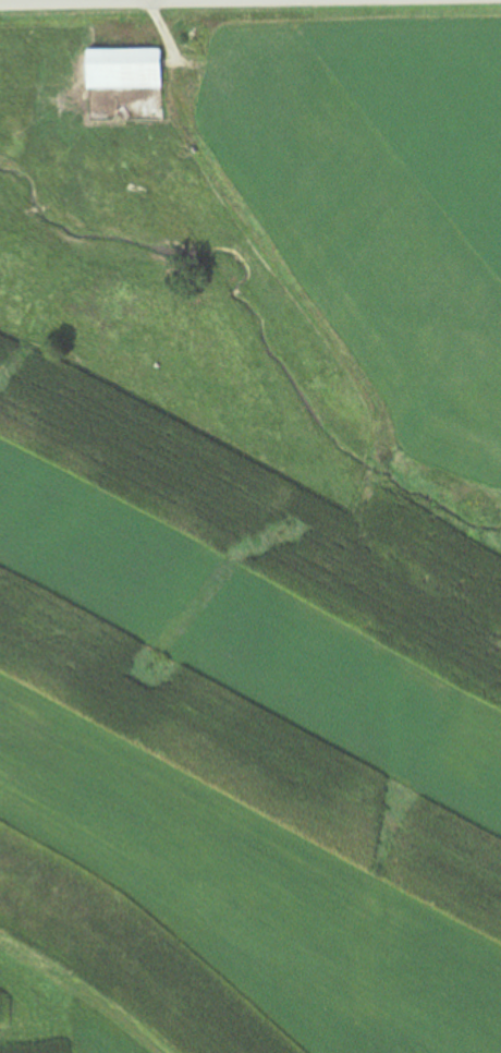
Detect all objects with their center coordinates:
road: (50, 0)
building: (190, 41)
building: (123, 69)

